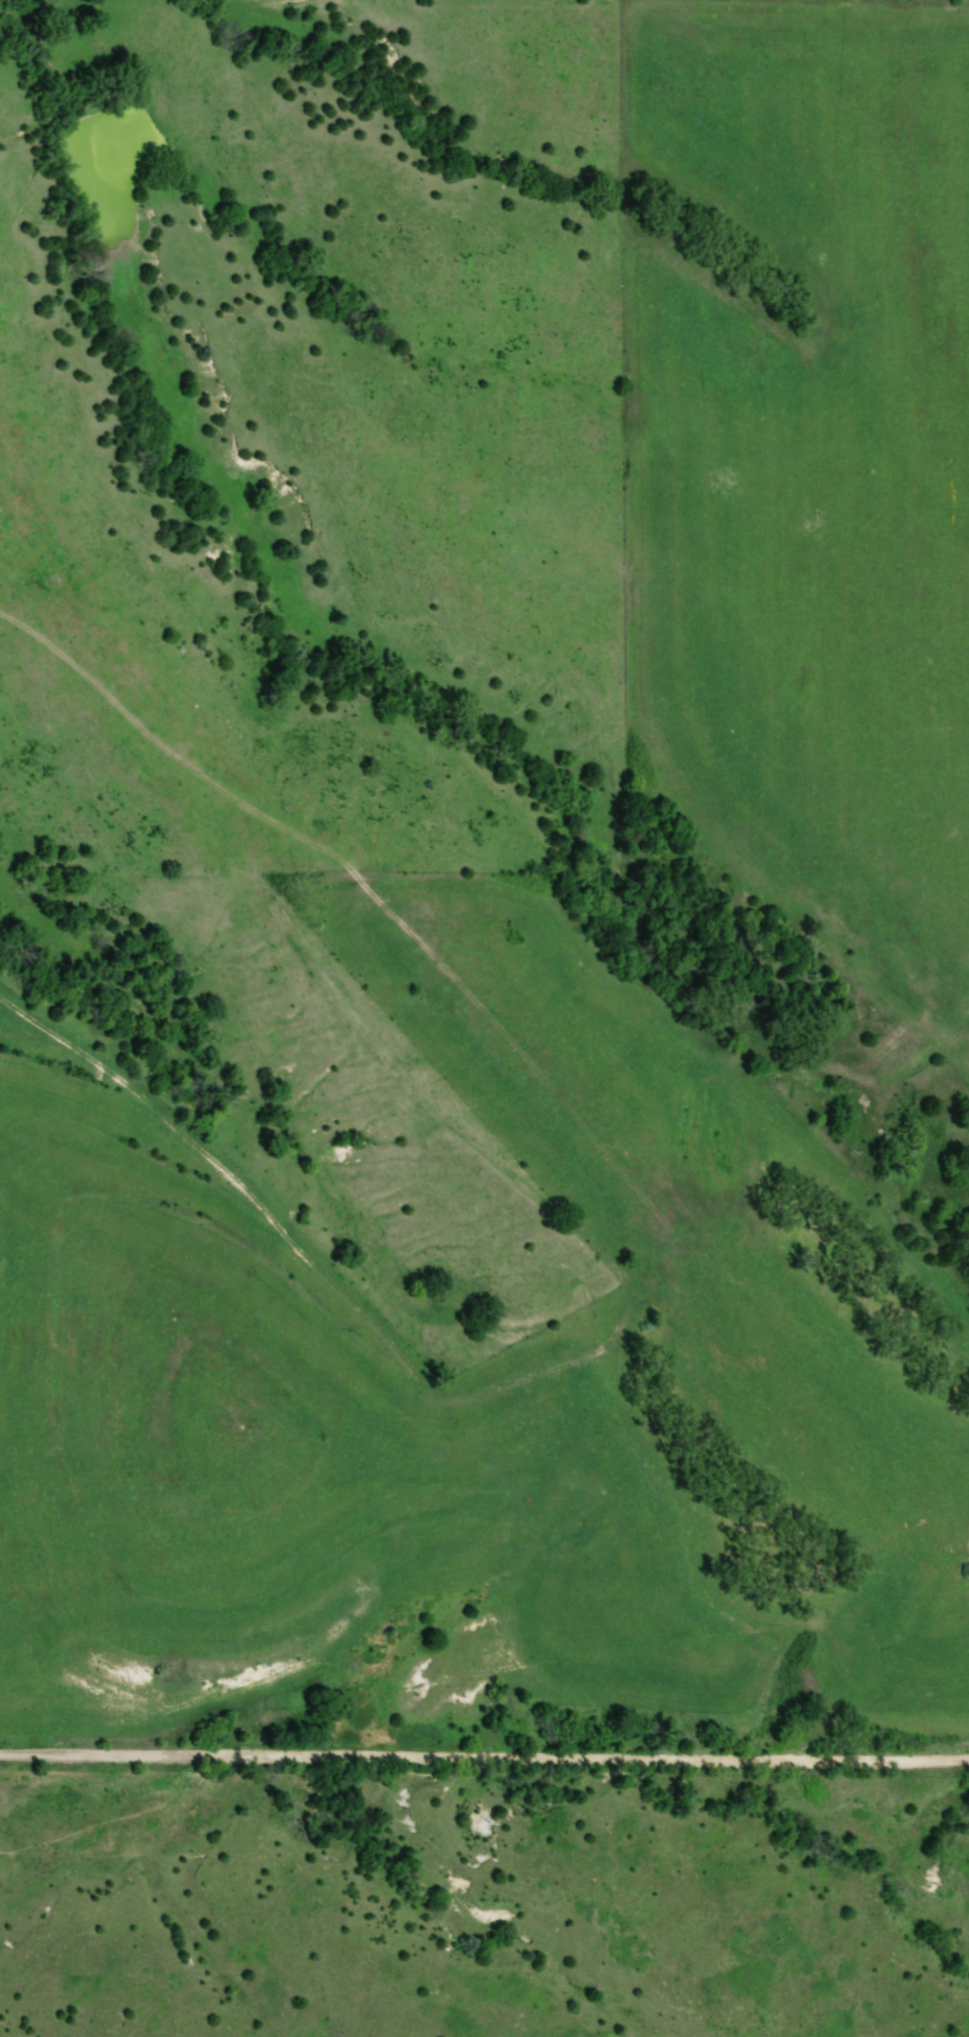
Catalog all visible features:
road: (484, 1759)

